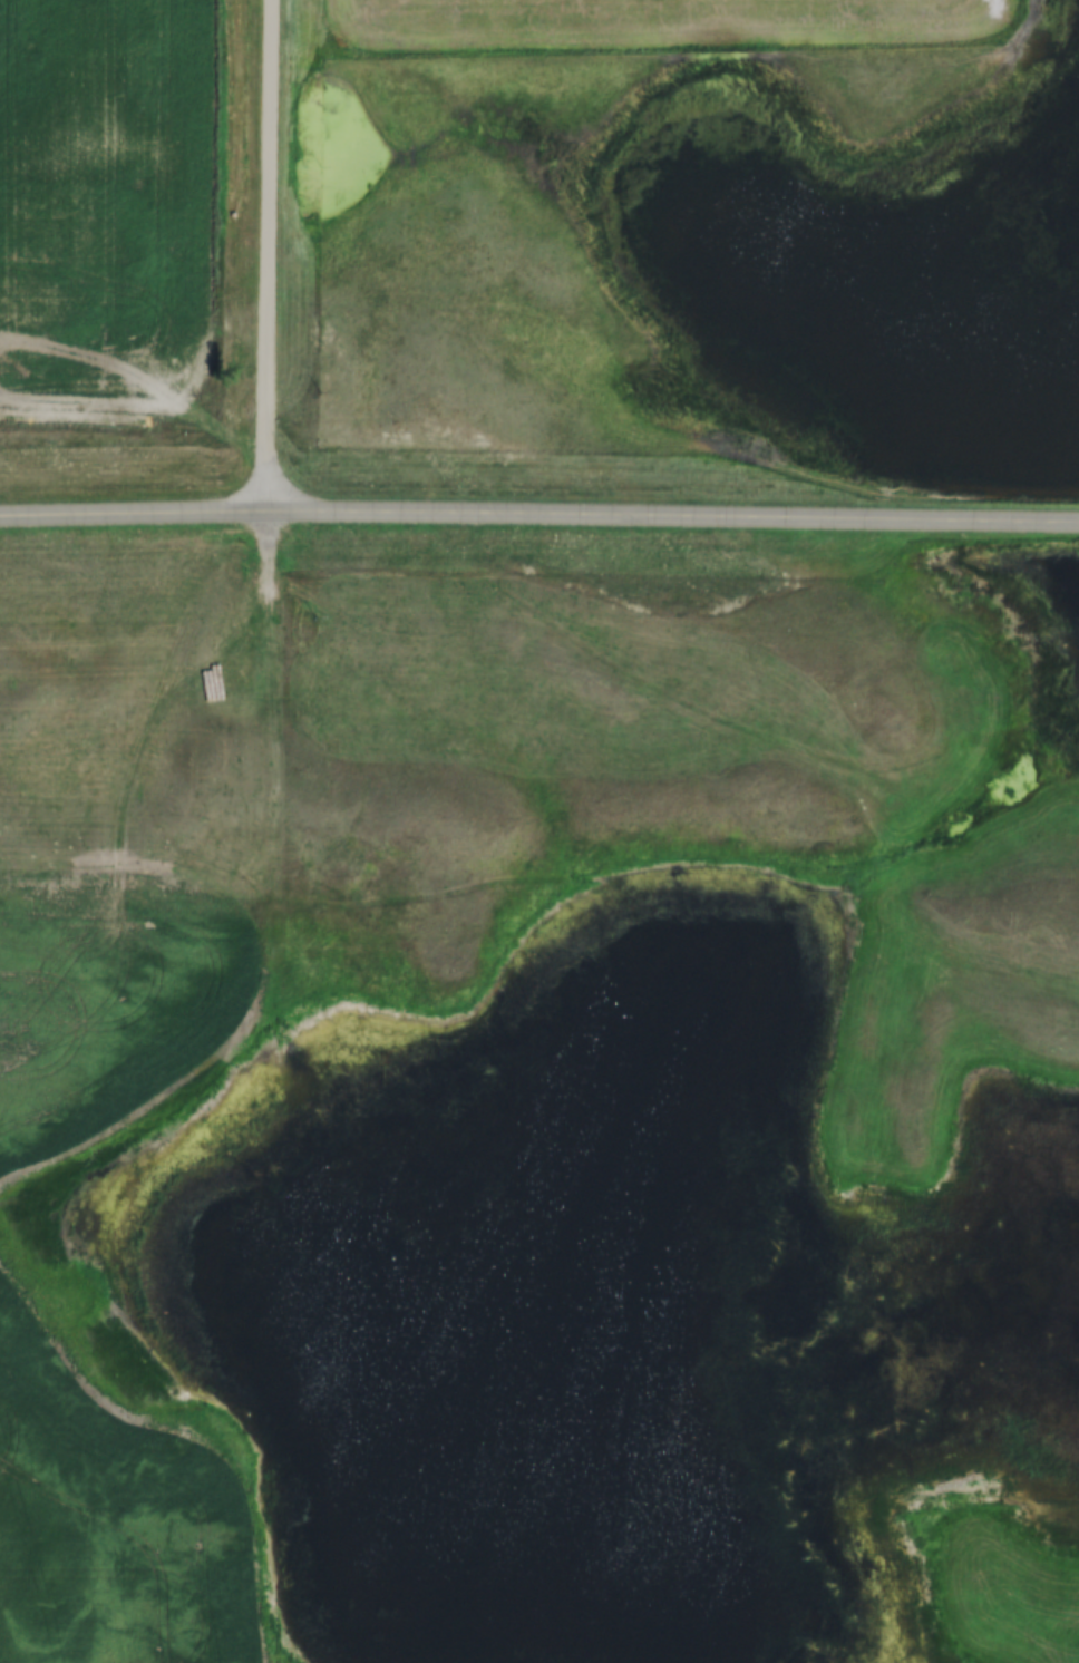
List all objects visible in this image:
road: (272, 257)
road: (538, 515)
road: (192, 1095)

